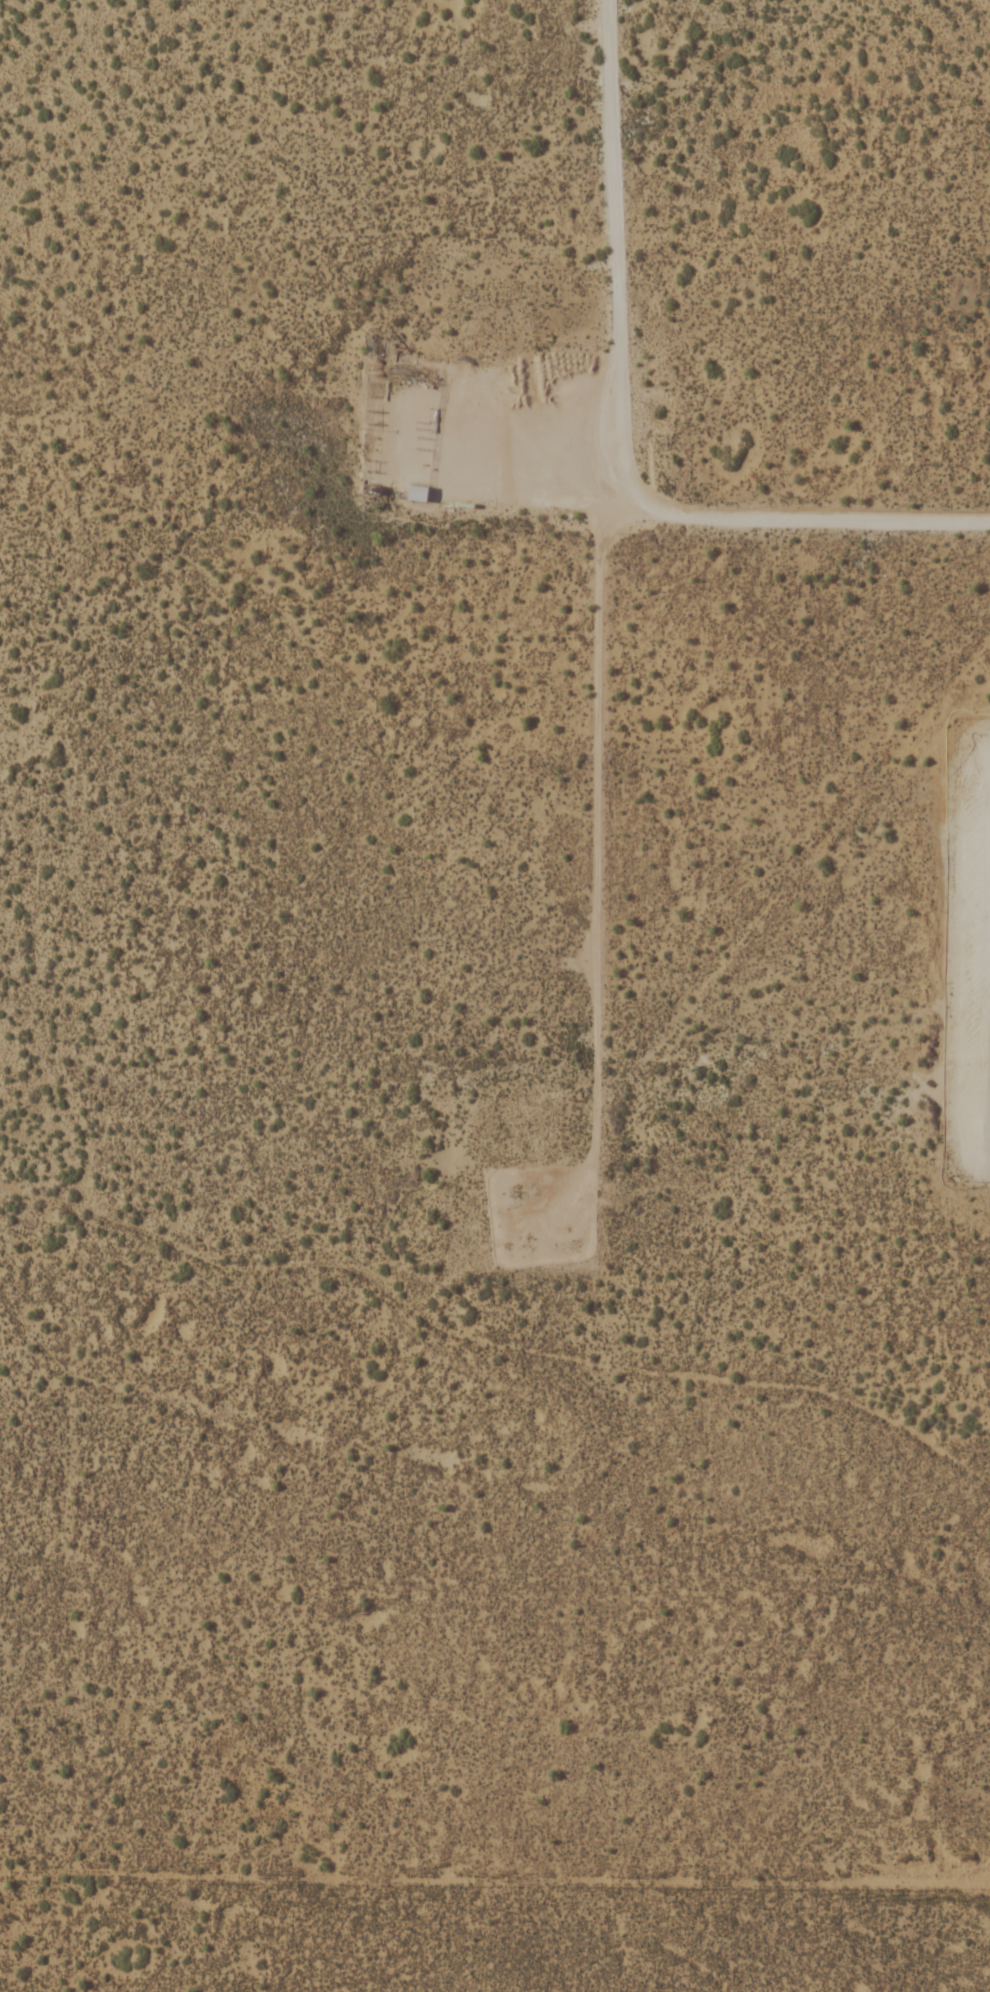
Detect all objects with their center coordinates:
road: (627, 256)
road: (795, 517)

